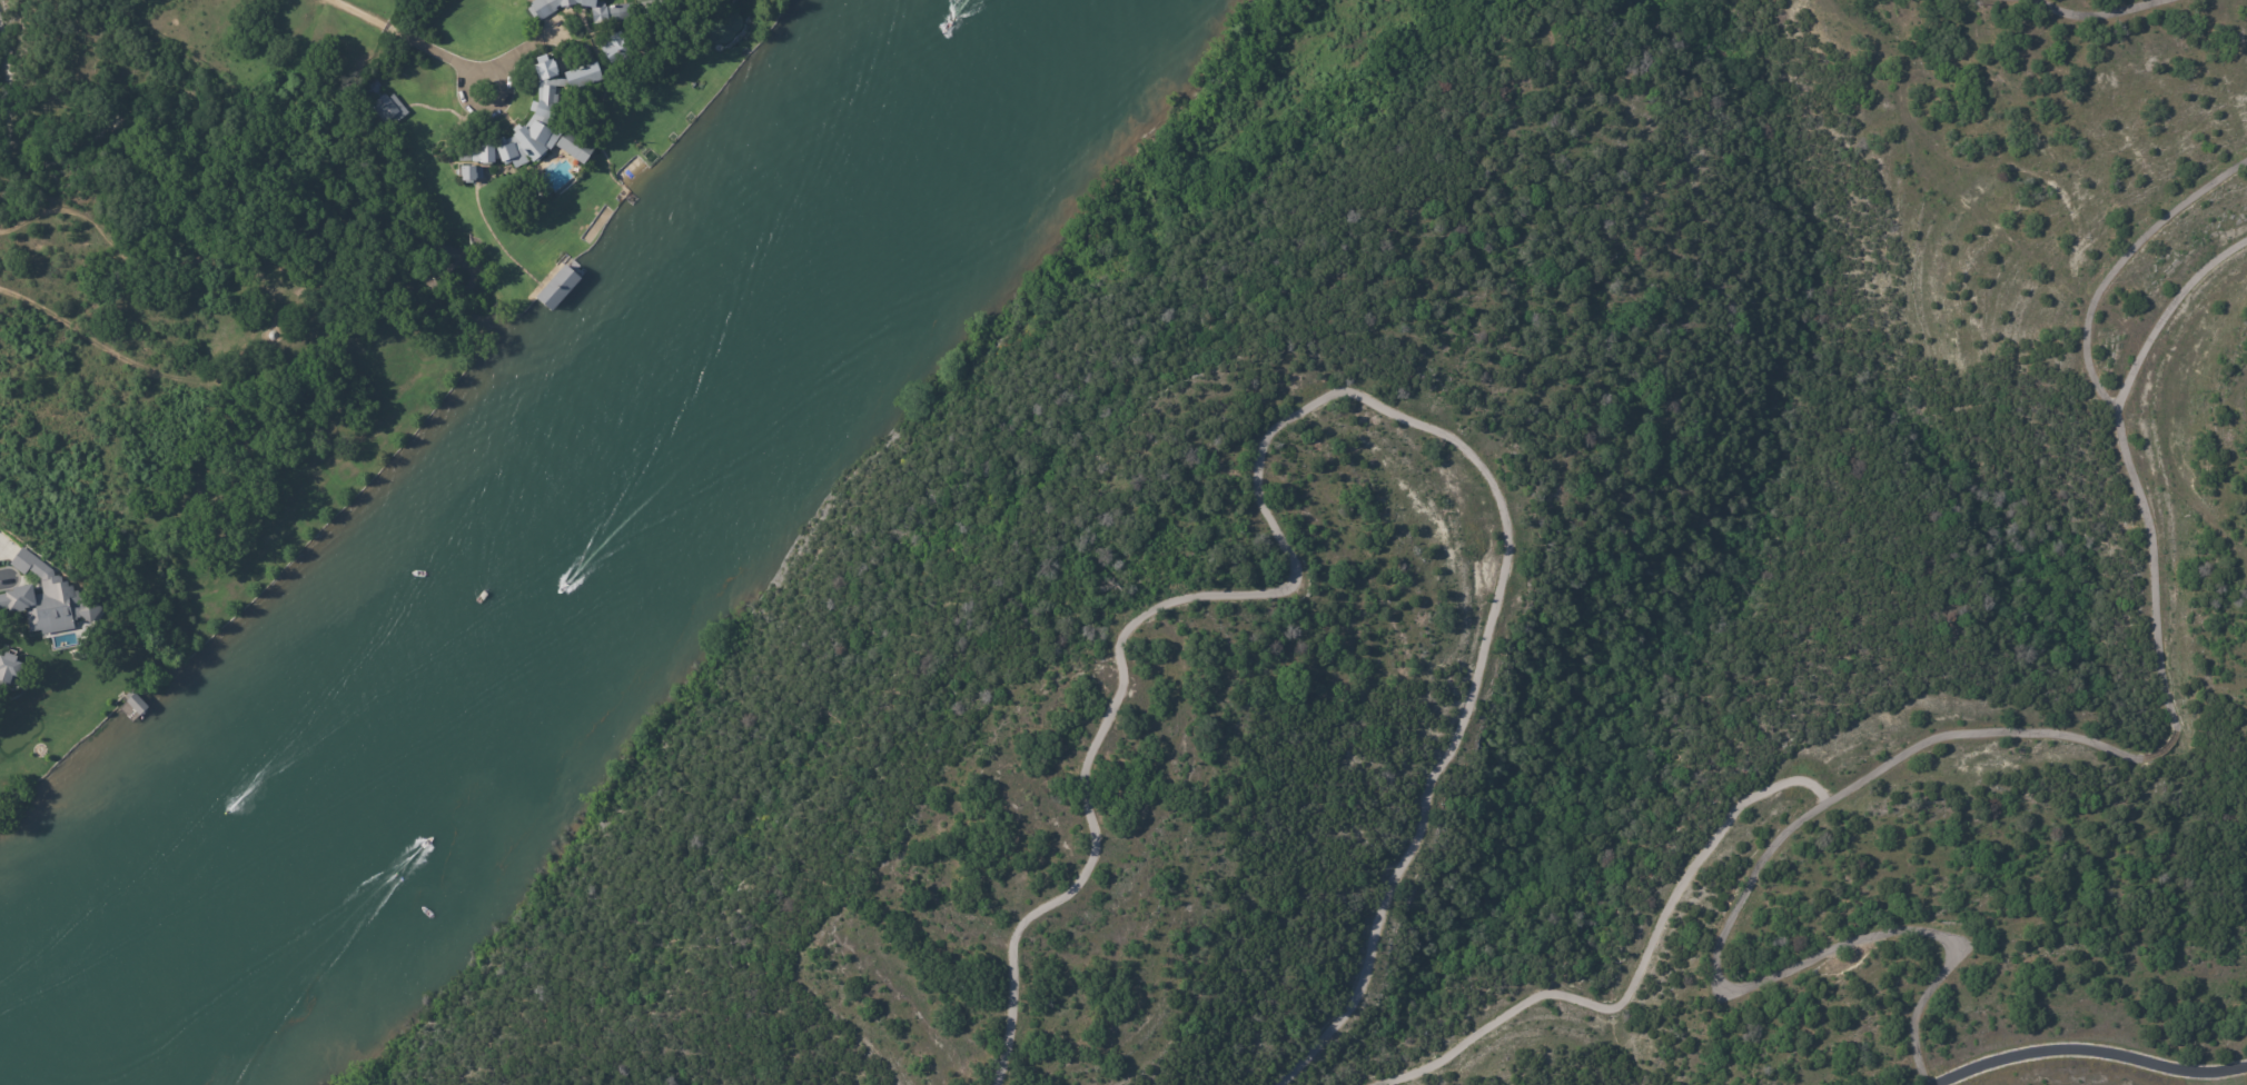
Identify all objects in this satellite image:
building: (554, 6)
building: (611, 13)
road: (2092, 14)
road: (399, 31)
building: (660, 40)
building: (613, 49)
building: (383, 104)
building: (534, 118)
building: (574, 147)
building: (467, 175)
road: (2118, 262)
river: (612, 571)
building: (6, 580)
building: (46, 598)
building: (9, 668)
road: (1958, 736)
road: (2092, 1058)

